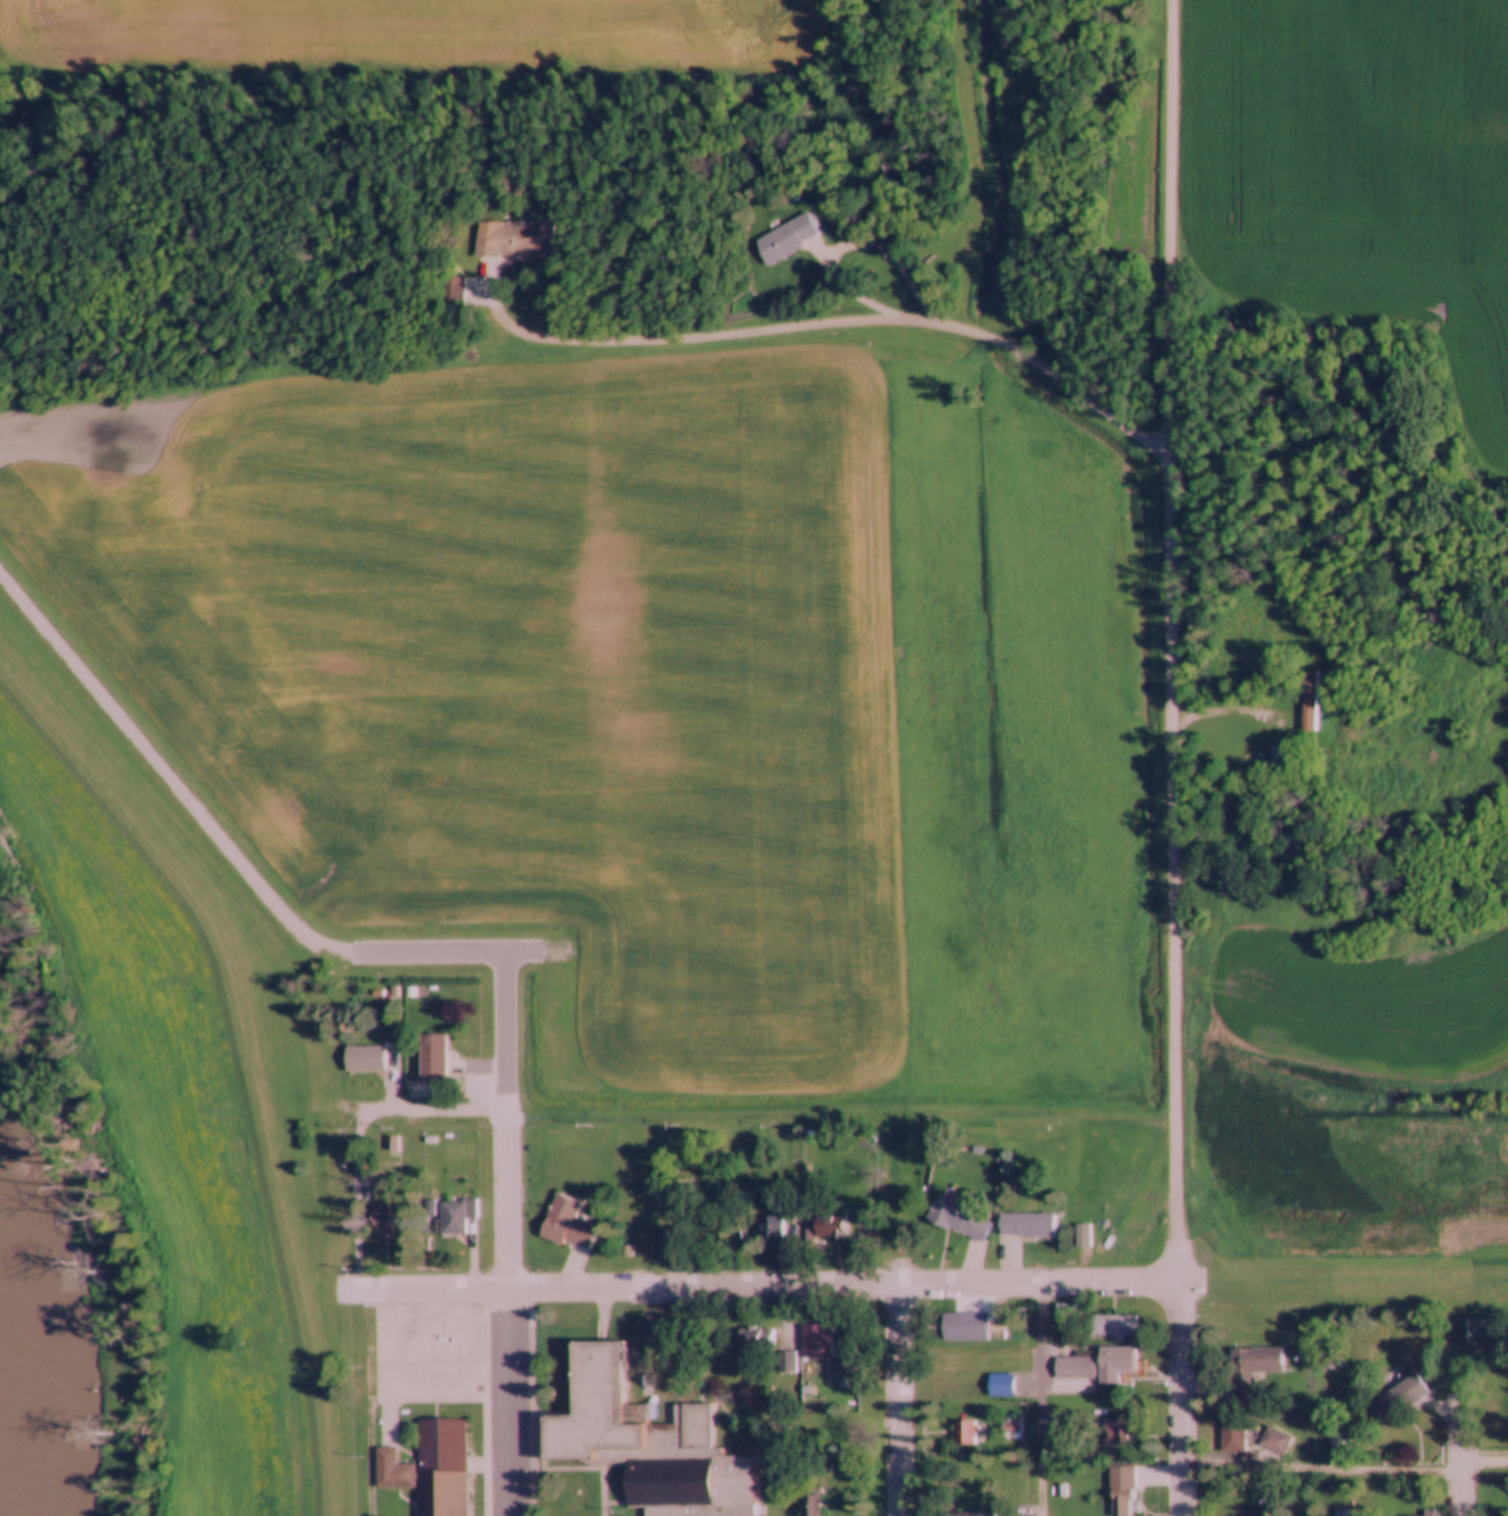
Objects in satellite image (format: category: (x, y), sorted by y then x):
building: (783, 239)
building: (510, 240)
road: (845, 243)
building: (448, 288)
road: (823, 320)
road: (1170, 640)
building: (1245, 659)
building: (1308, 701)
building: (1279, 755)
road: (171, 797)
road: (463, 966)
building: (431, 1055)
building: (315, 1058)
building: (365, 1058)
road: (427, 1107)
building: (393, 1144)
building: (240, 1155)
building: (322, 1162)
building: (456, 1217)
building: (380, 1220)
building: (957, 1220)
building: (290, 1224)
building: (566, 1225)
building: (832, 1227)
building: (1026, 1227)
building: (772, 1228)
building: (238, 1234)
road: (507, 1240)
building: (328, 1241)
road: (843, 1284)
road: (422, 1289)
building: (257, 1325)
building: (1112, 1326)
building: (344, 1337)
building: (755, 1338)
building: (814, 1342)
parking lot: (439, 1345)
building: (1018, 1359)
building: (1096, 1365)
building: (1252, 1370)
building: (842, 1375)
building: (1000, 1386)
building: (944, 1387)
road: (1180, 1397)
road: (1043, 1399)
road: (897, 1400)
building: (1399, 1400)
road: (370, 1403)
building: (260, 1410)
building: (1014, 1427)
building: (966, 1433)
building: (1117, 1433)
building: (1233, 1437)
building: (1275, 1442)
building: (645, 1445)
road: (1462, 1456)
building: (442, 1468)
road: (1344, 1470)
building: (393, 1473)
building: (257, 1489)
building: (1123, 1502)
building: (810, 1506)
building: (1345, 1513)
building: (962, 1514)
building: (1420, 1515)

